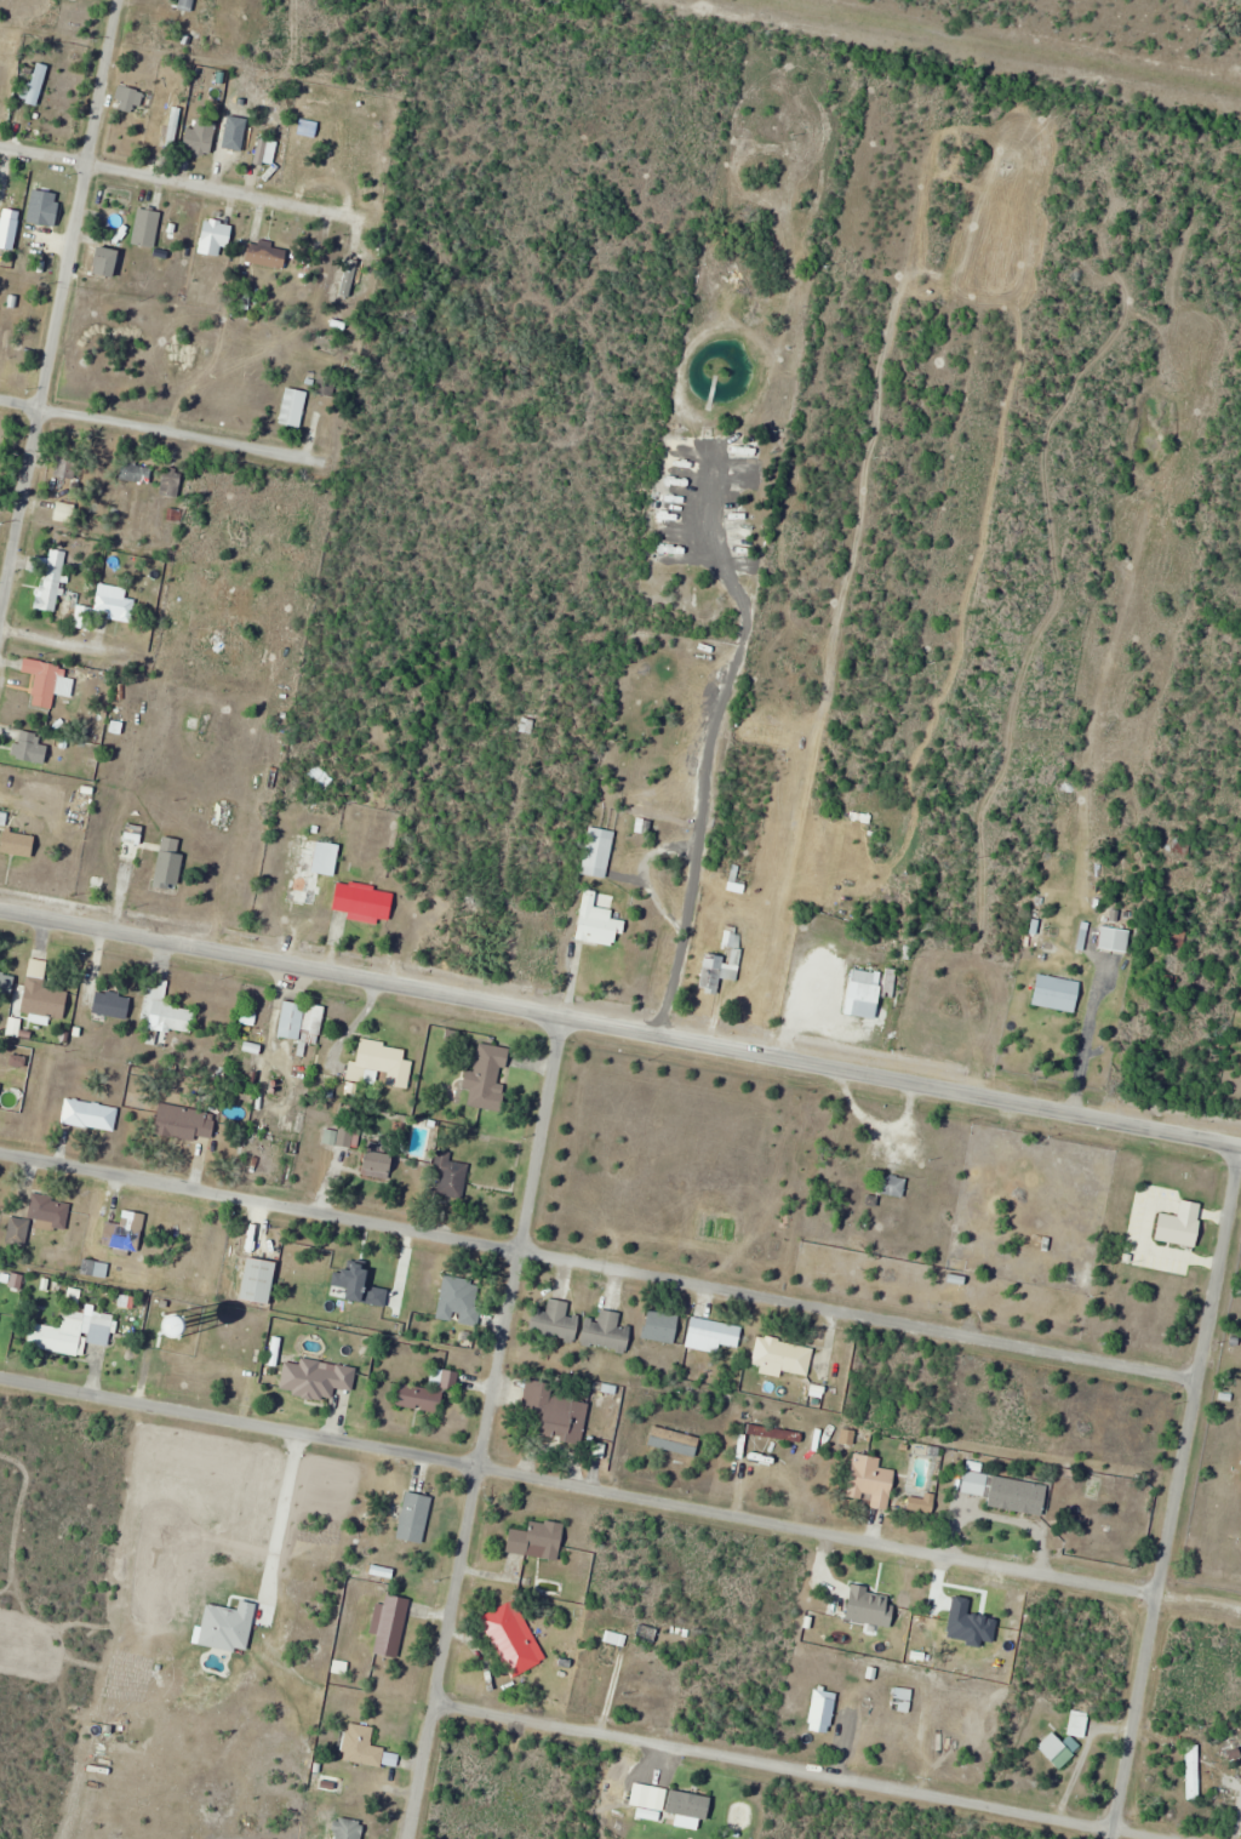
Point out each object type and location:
building: (187, 5)
building: (7, 61)
building: (38, 85)
building: (132, 95)
building: (172, 127)
building: (201, 137)
building: (236, 143)
building: (257, 155)
road: (183, 183)
building: (17, 190)
building: (0, 212)
building: (138, 227)
building: (216, 238)
building: (268, 255)
building: (108, 263)
road: (57, 309)
building: (7, 344)
building: (293, 409)
road: (159, 426)
building: (68, 467)
building: (137, 473)
building: (173, 482)
building: (65, 513)
building: (52, 581)
building: (115, 596)
road: (51, 635)
building: (44, 681)
building: (760, 725)
road: (697, 747)
building: (19, 843)
building: (131, 845)
building: (599, 851)
building: (171, 861)
building: (314, 870)
building: (738, 879)
building: (365, 902)
building: (597, 923)
building: (1115, 940)
building: (722, 961)
road: (1138, 975)
building: (5, 990)
building: (864, 993)
building: (1046, 993)
building: (45, 999)
building: (113, 1005)
building: (302, 1021)
building: (166, 1023)
road: (620, 1027)
building: (382, 1064)
building: (488, 1078)
building: (91, 1114)
building: (187, 1123)
building: (902, 1156)
building: (381, 1163)
building: (450, 1177)
building: (892, 1186)
building: (39, 1217)
building: (1182, 1224)
building: (126, 1233)
road: (597, 1267)
building: (95, 1268)
building: (259, 1280)
building: (461, 1300)
building: (557, 1320)
building: (662, 1327)
building: (103, 1330)
building: (607, 1332)
building: (59, 1333)
building: (713, 1335)
building: (783, 1357)
building: (316, 1378)
building: (429, 1392)
building: (559, 1410)
road: (490, 1427)
building: (675, 1441)
park: (1219, 1460)
building: (871, 1481)
road: (620, 1490)
building: (1007, 1491)
road: (1174, 1498)
building: (922, 1503)
building: (414, 1518)
building: (538, 1540)
building: (391, 1626)
building: (974, 1626)
building: (514, 1641)
building: (823, 1712)
building: (1079, 1724)
building: (362, 1746)
building: (1059, 1749)
road: (805, 1770)
building: (680, 1810)

